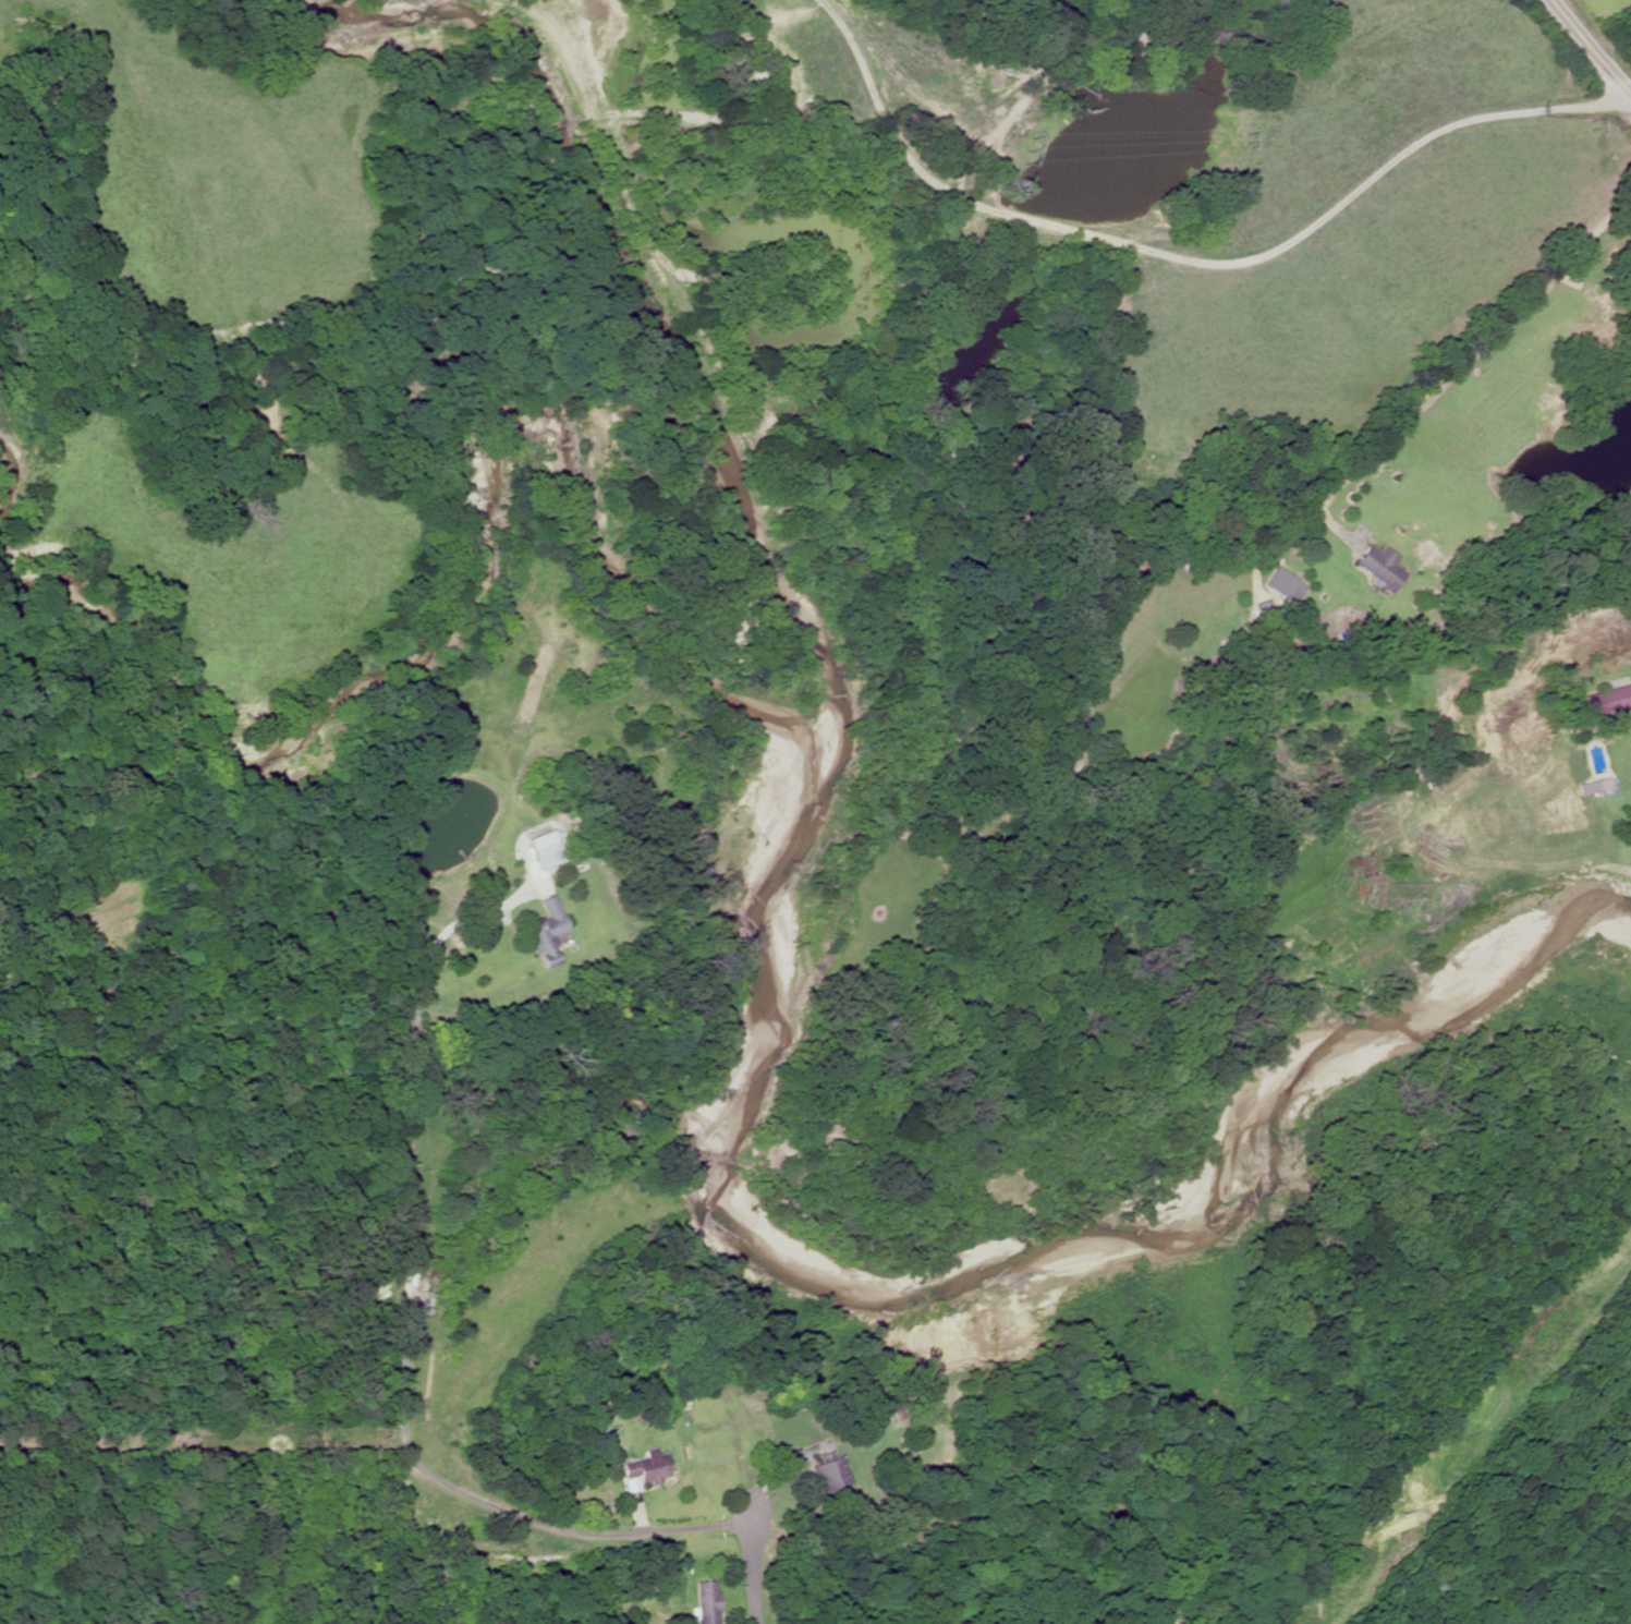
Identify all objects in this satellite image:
road: (1587, 40)
building: (1377, 567)
building: (1282, 586)
building: (1262, 614)
building: (1607, 701)
building: (1596, 786)
building: (539, 838)
building: (541, 932)
building: (642, 1467)
building: (821, 1474)
power tower: (1400, 1503)
road: (497, 1520)
building: (703, 1601)
road: (754, 1603)

